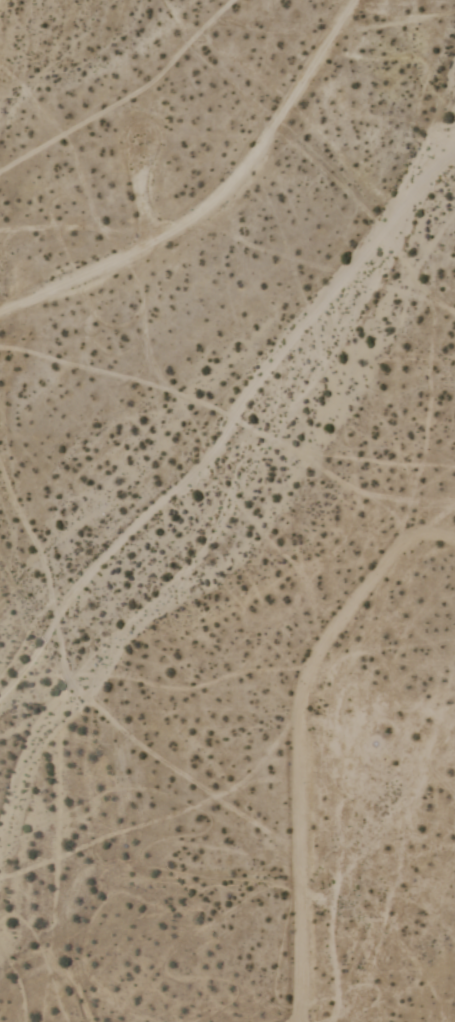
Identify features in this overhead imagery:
road: (138, 199)
road: (217, 203)
crop: (227, 511)
road: (300, 741)

